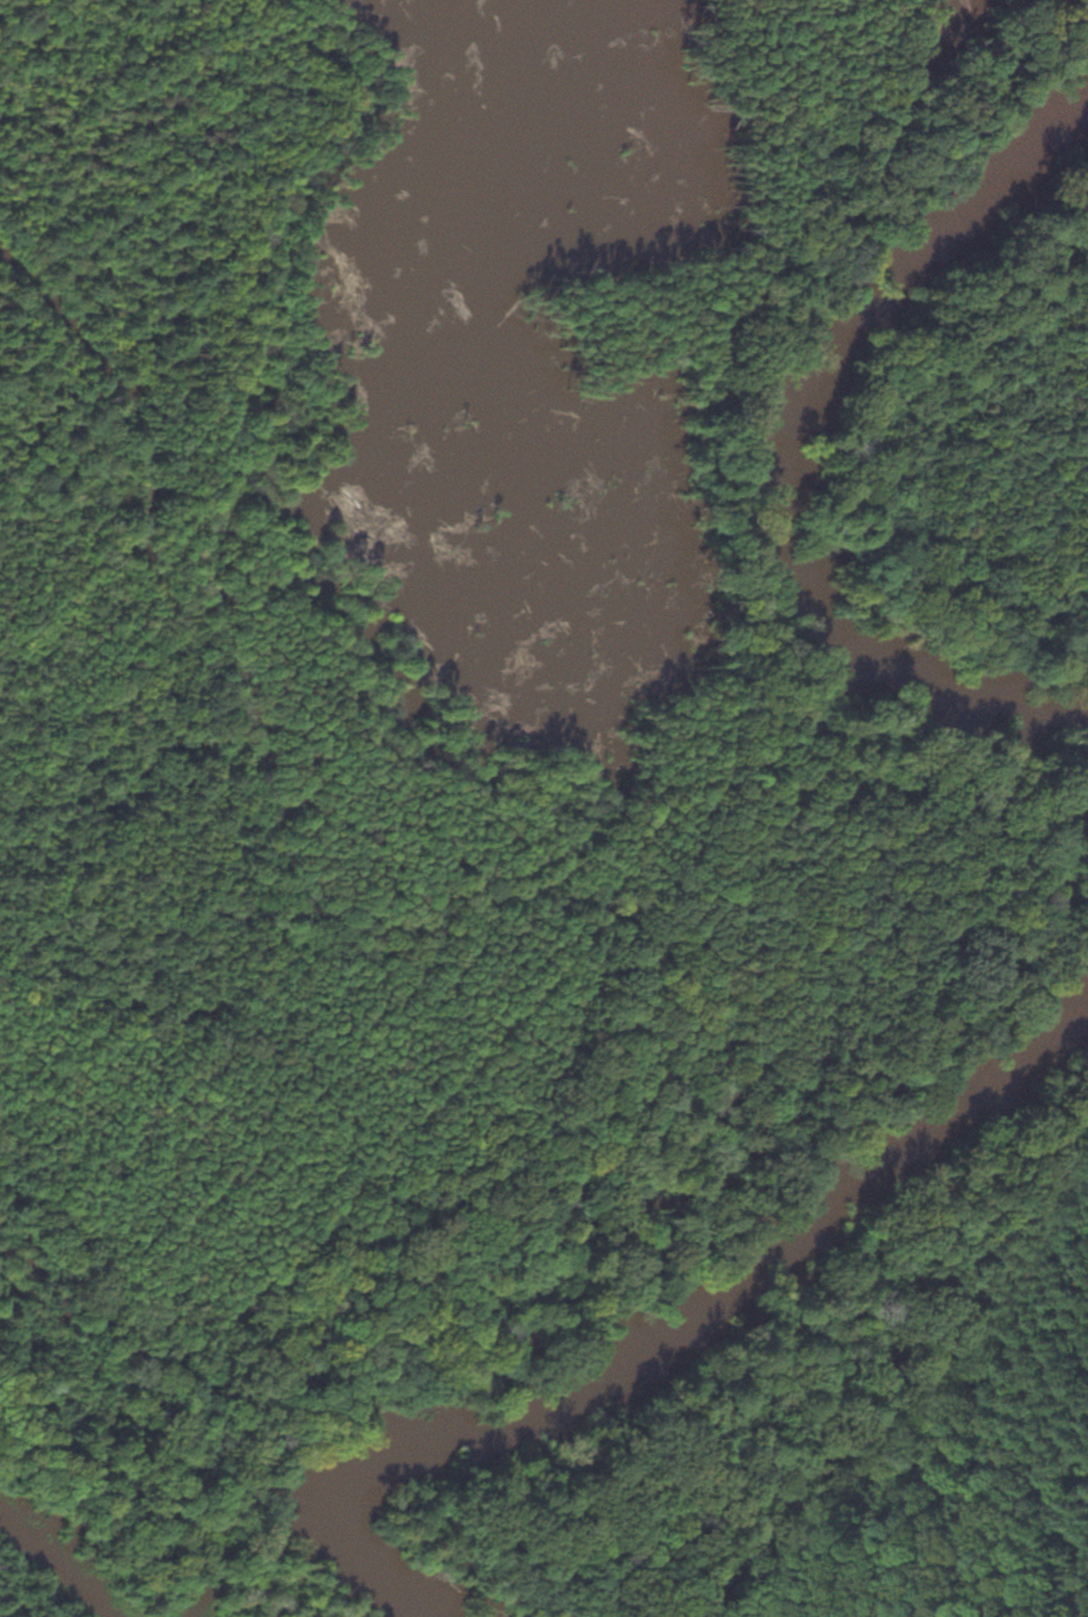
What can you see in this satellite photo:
road: (125, 435)
river: (786, 447)
river: (679, 1322)

